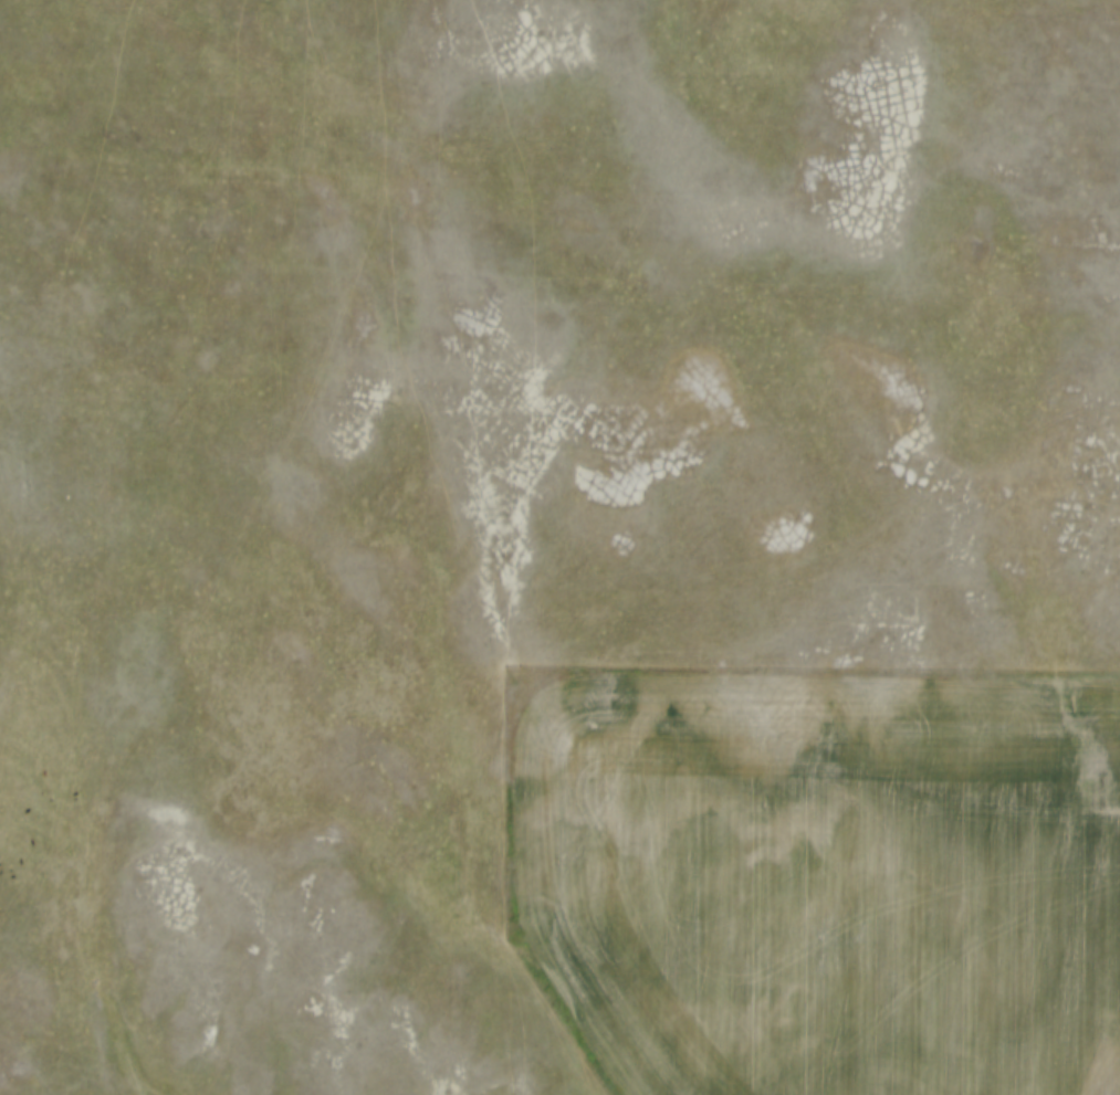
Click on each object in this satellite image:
road: (559, 180)

